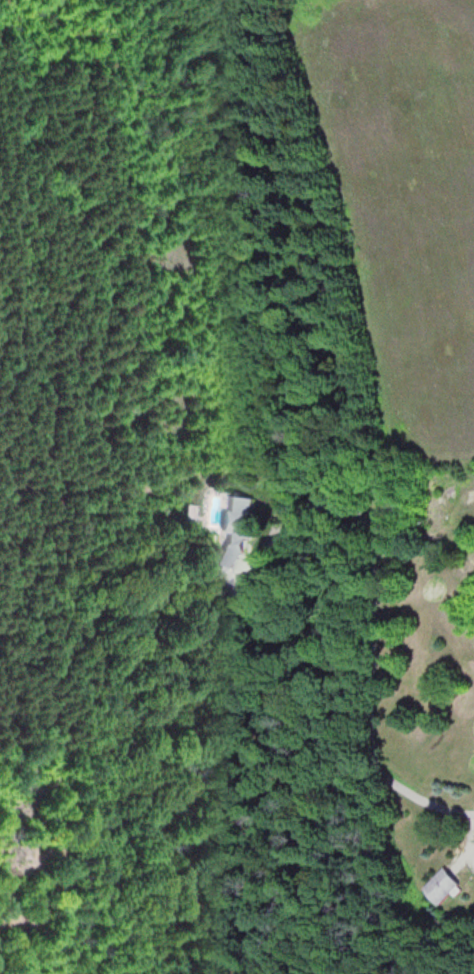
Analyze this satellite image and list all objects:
building: (234, 535)
building: (441, 888)

